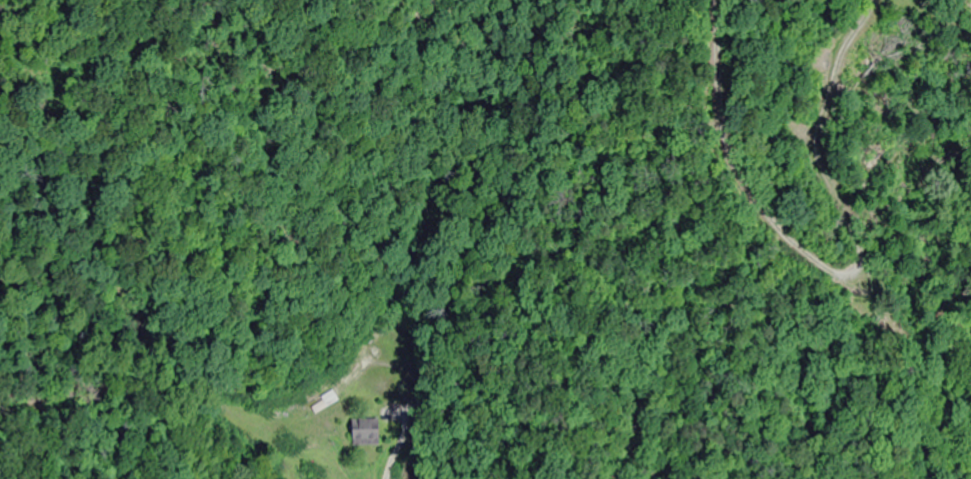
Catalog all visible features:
building: (373, 433)

